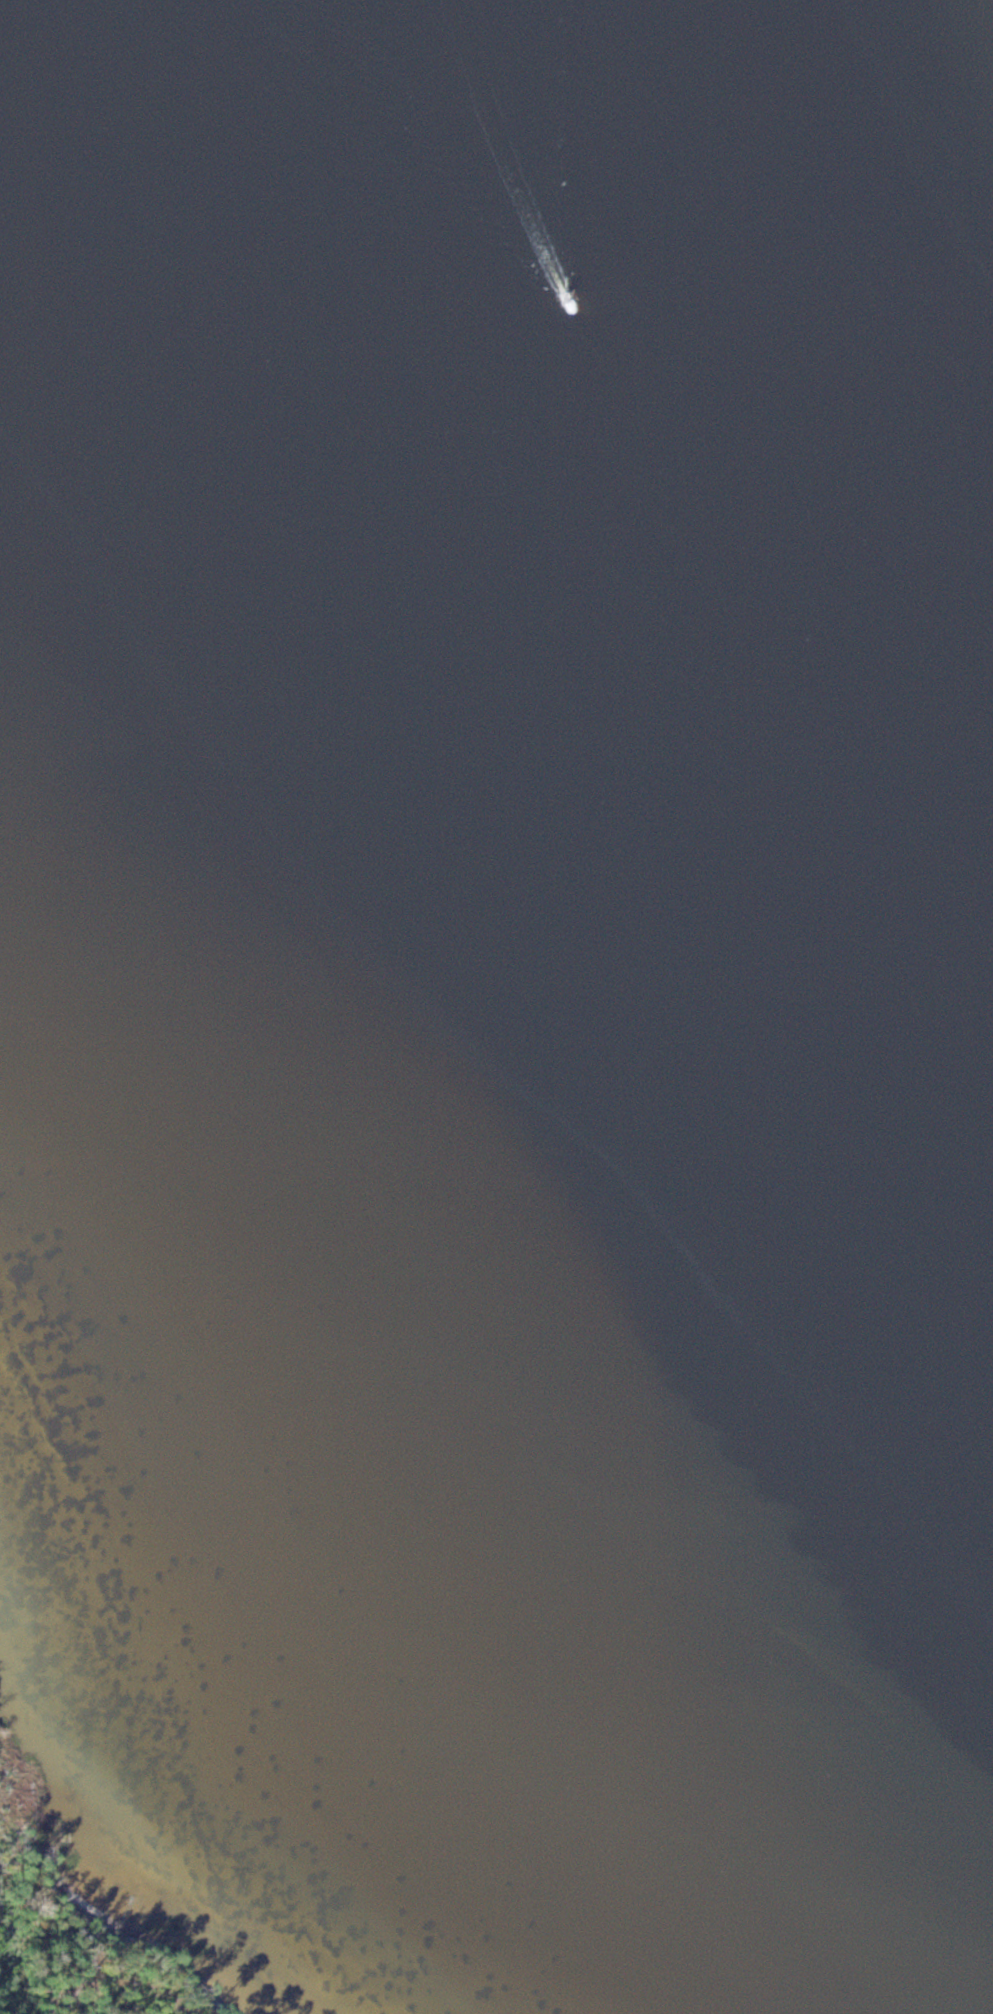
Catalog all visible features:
river: (755, 647)

